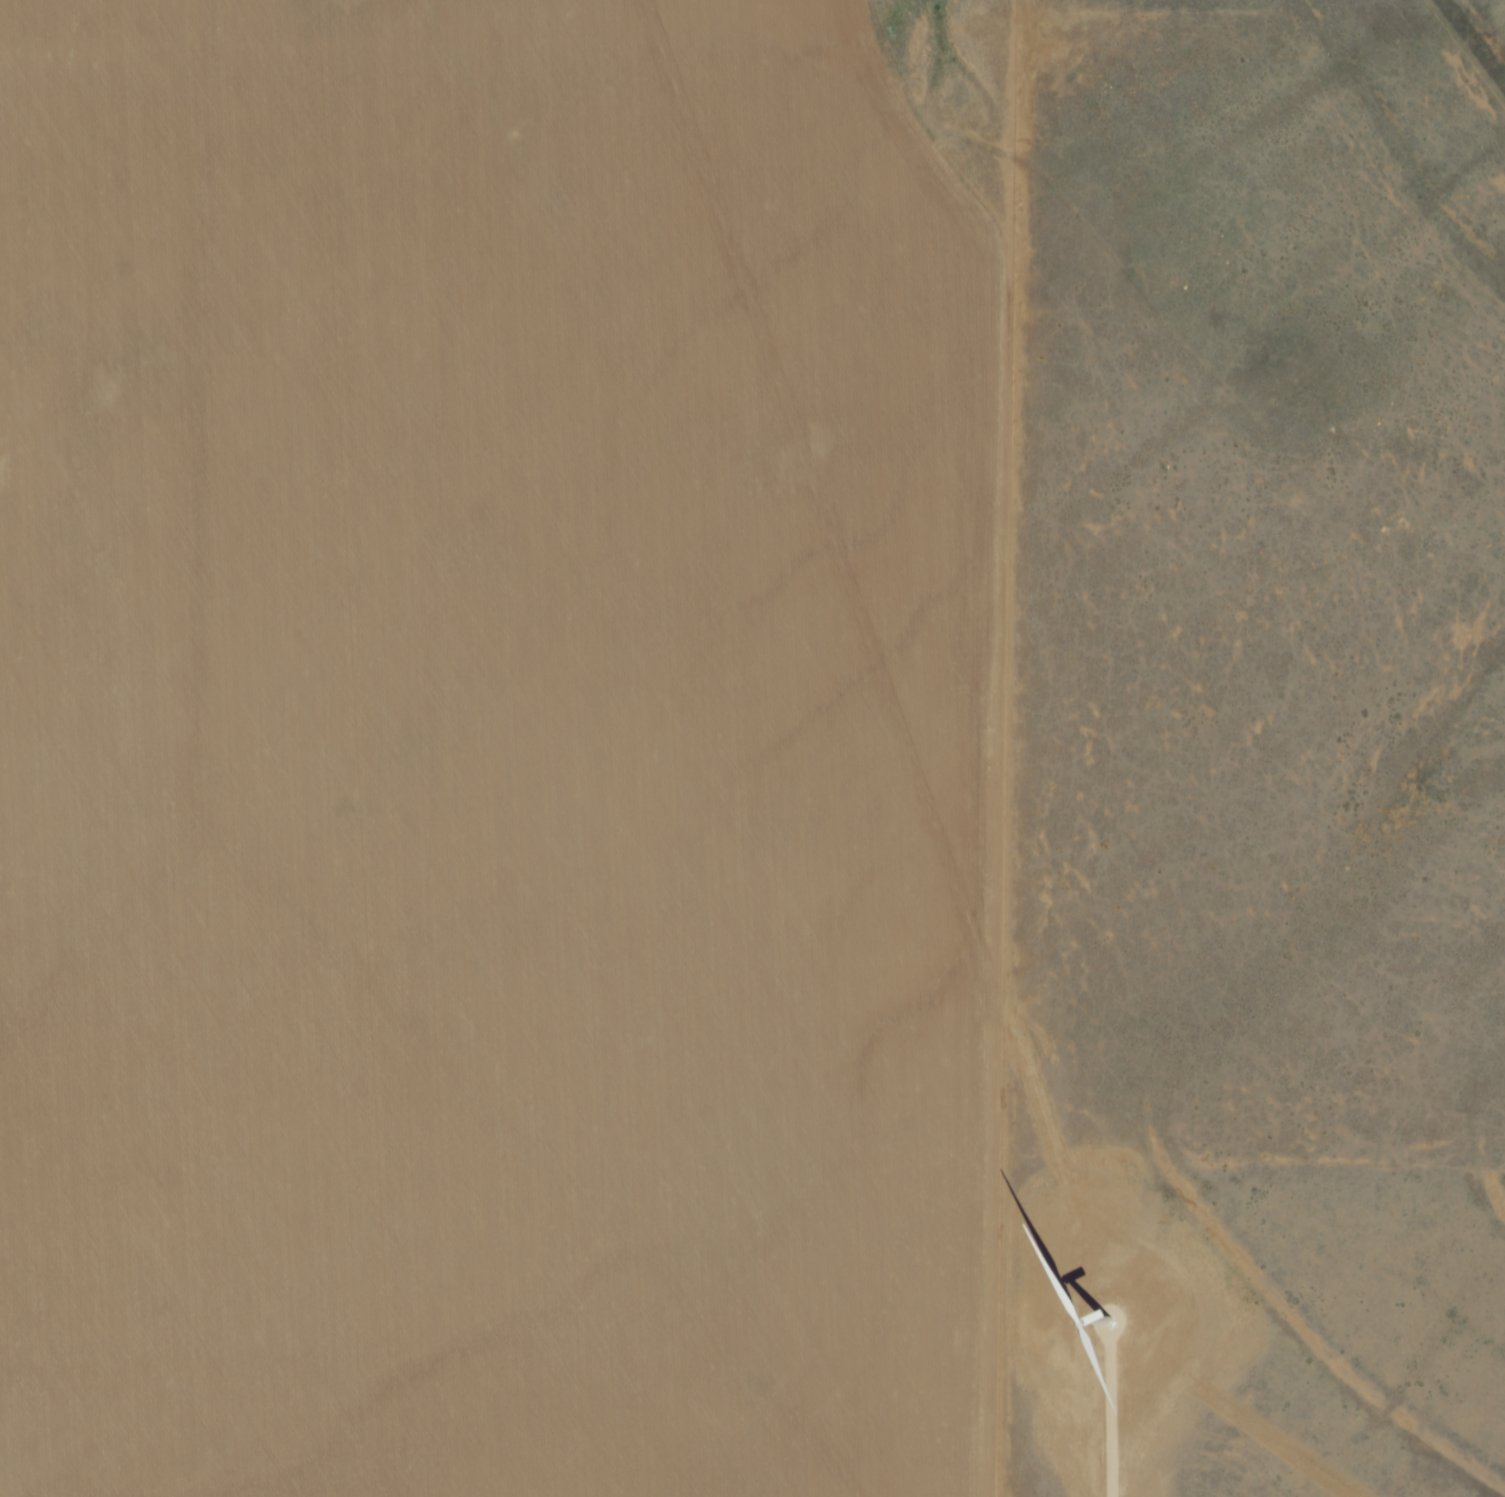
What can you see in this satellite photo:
wind turbine: (1109, 1332)
road: (1111, 1420)

